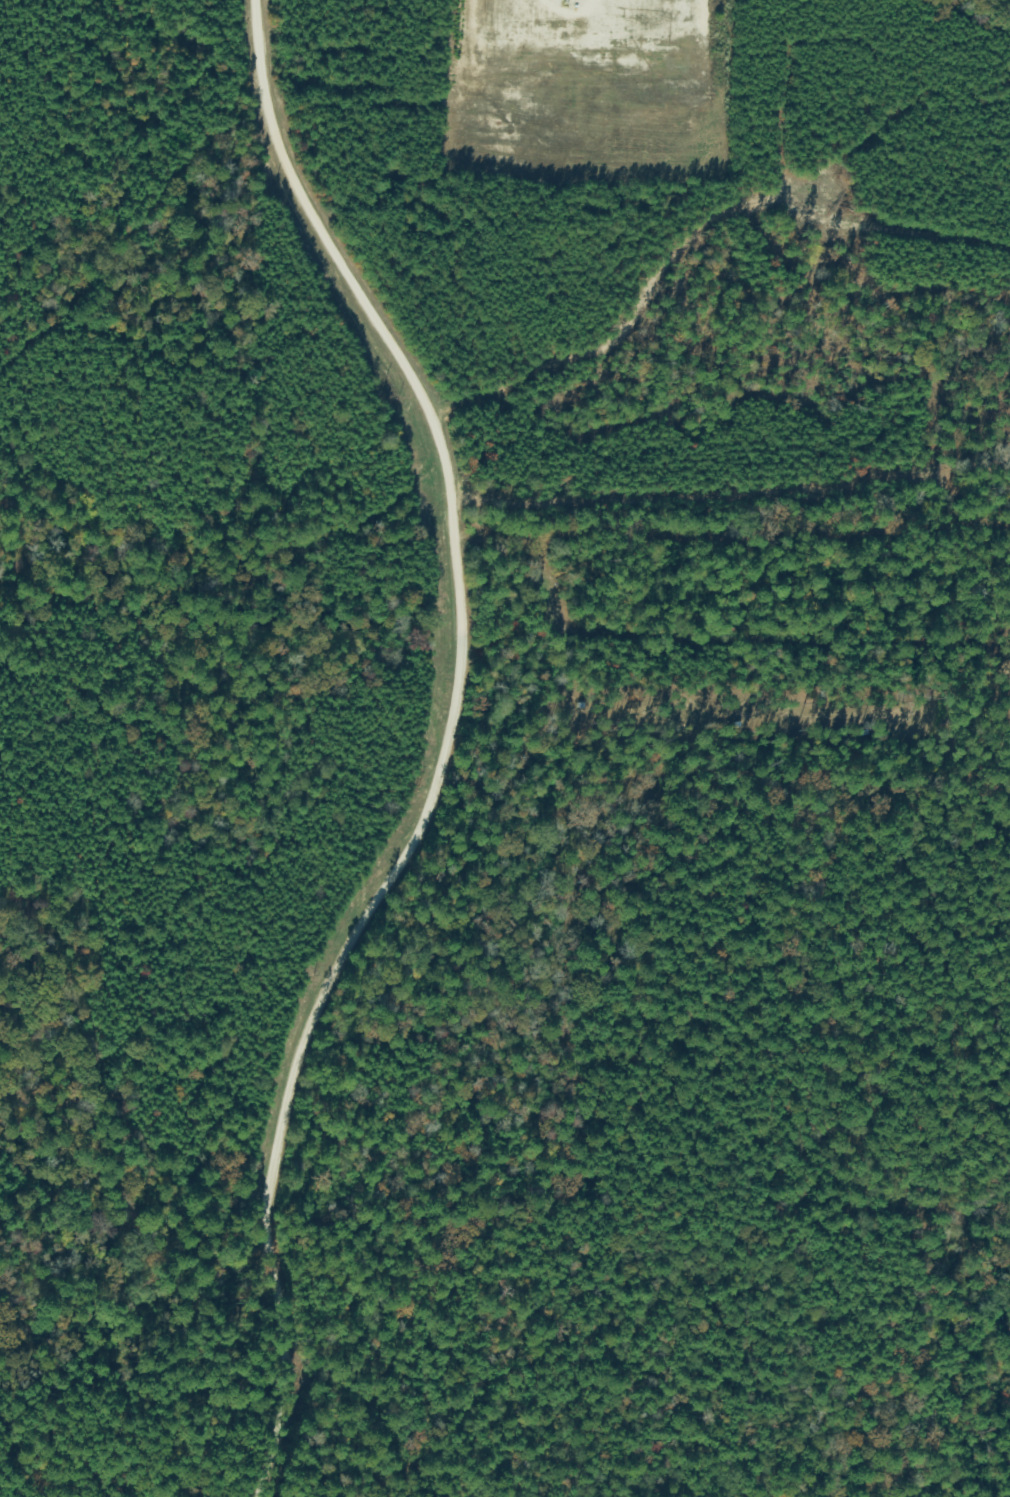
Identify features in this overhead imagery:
road: (334, 1385)

